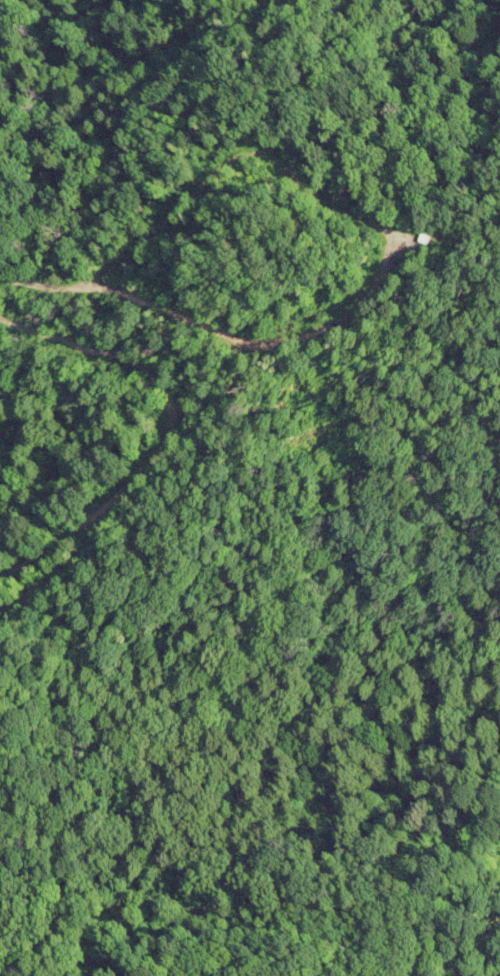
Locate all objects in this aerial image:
road: (137, 445)

